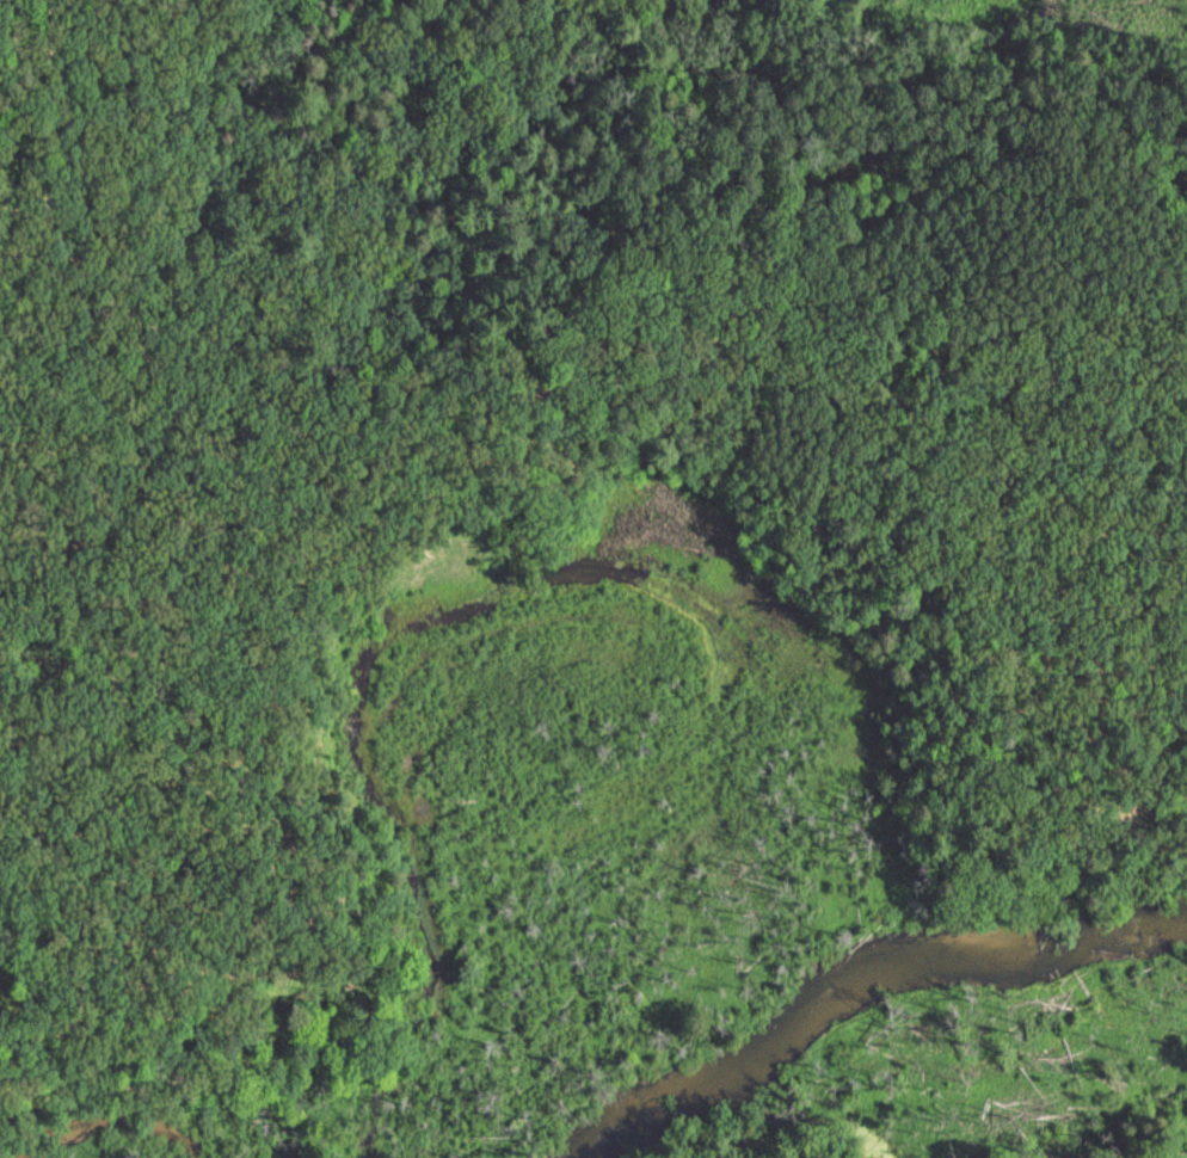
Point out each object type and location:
river: (874, 977)

